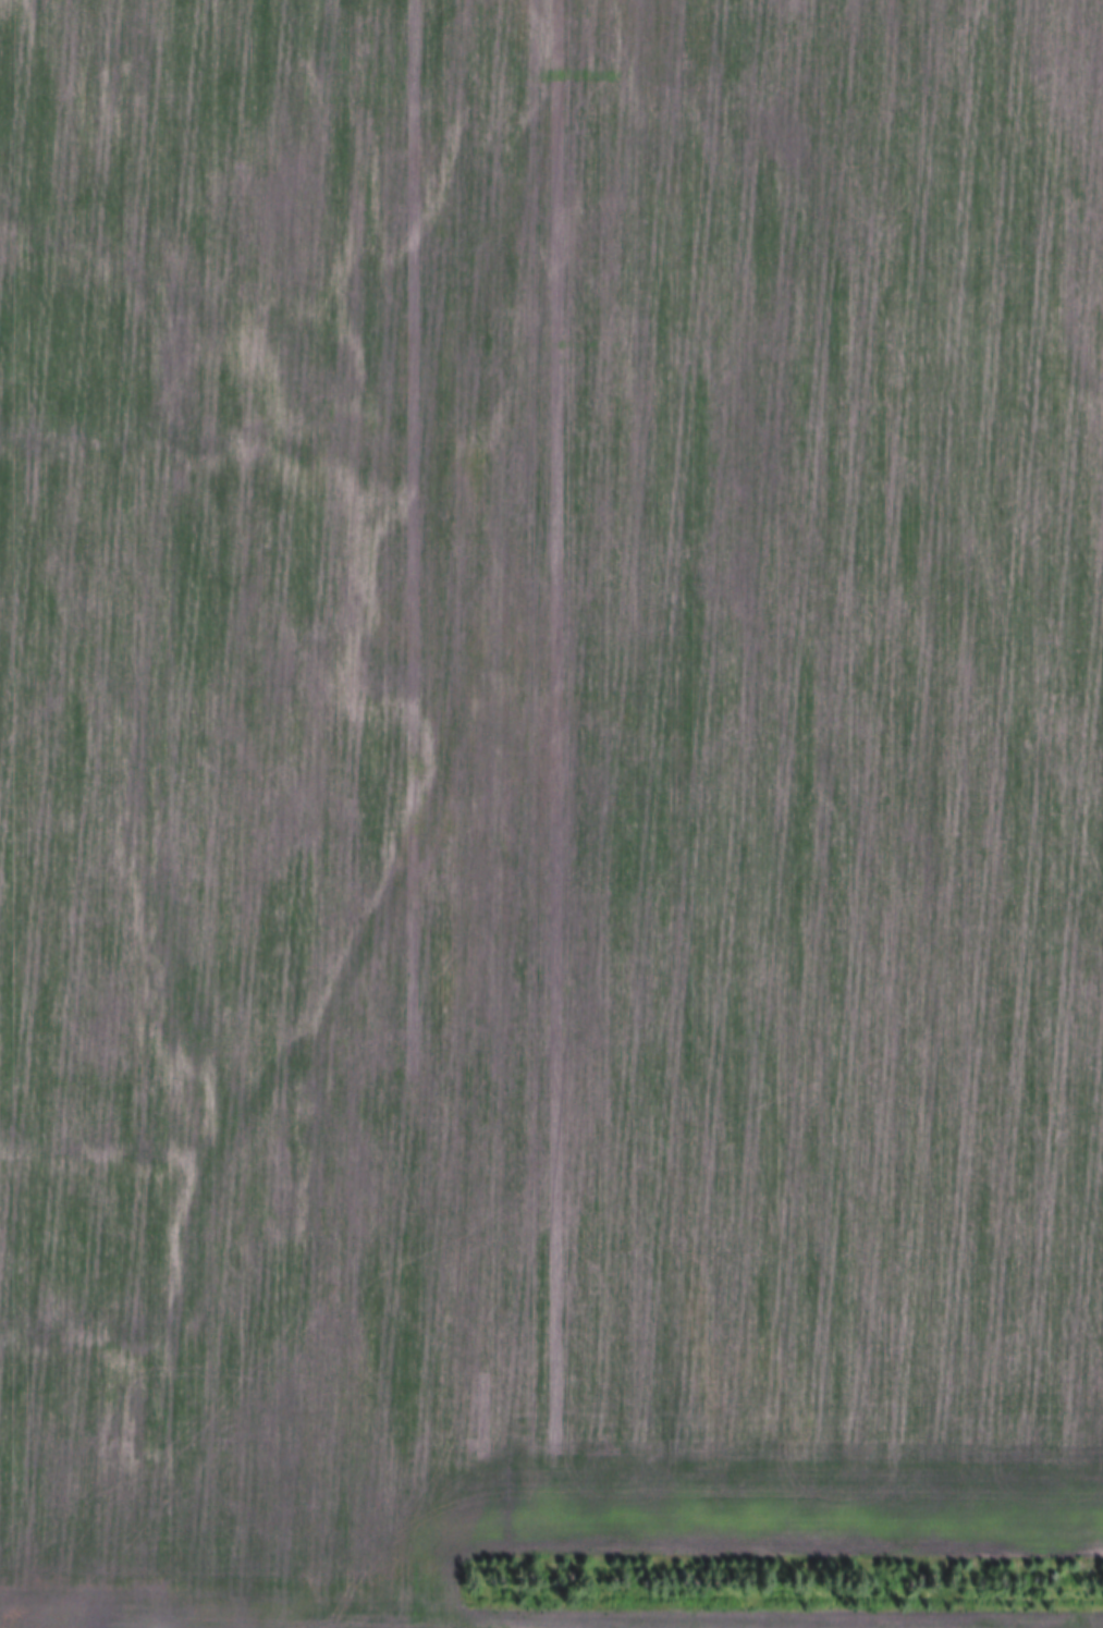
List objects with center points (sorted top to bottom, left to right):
crop: (547, 800)

